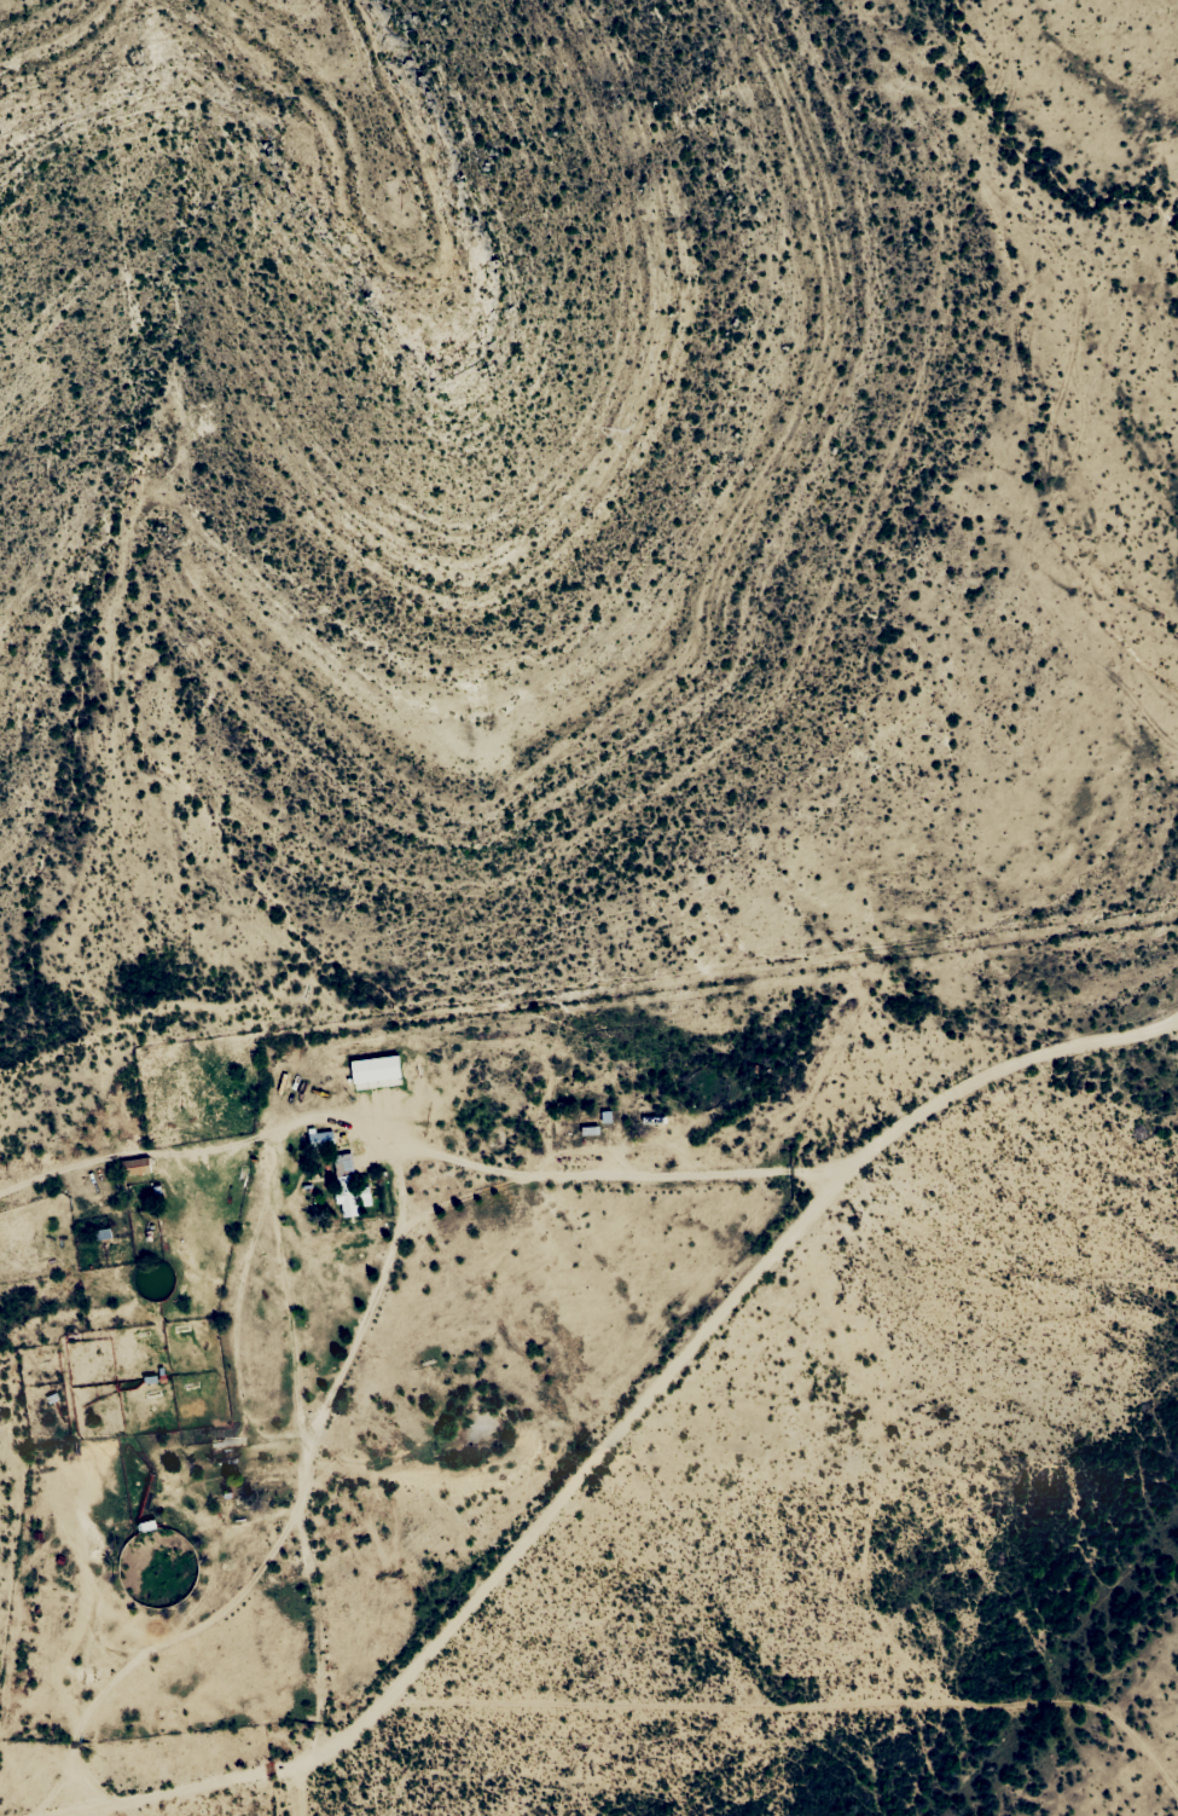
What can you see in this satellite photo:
building: (134, 1163)
building: (343, 1181)
road: (501, 1234)
building: (265, 1476)
road: (561, 1488)

